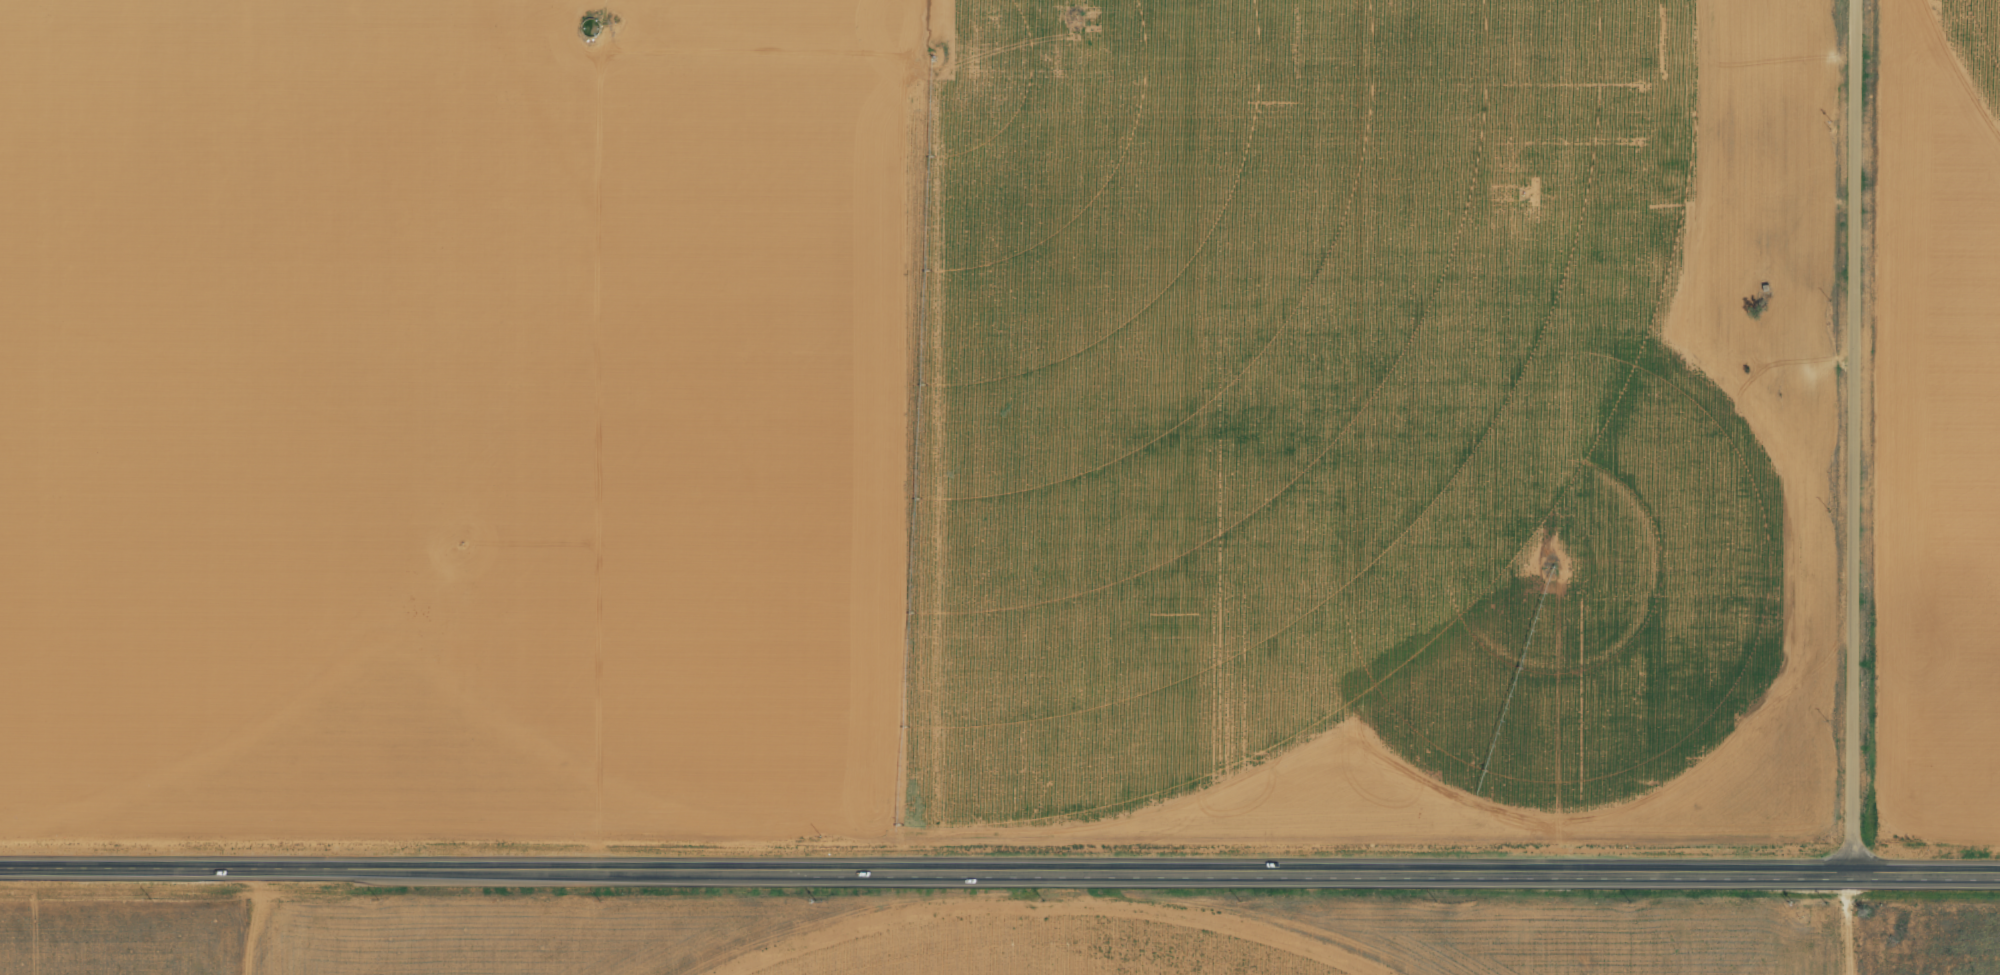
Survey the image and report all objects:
road: (1851, 435)
road: (1000, 869)

